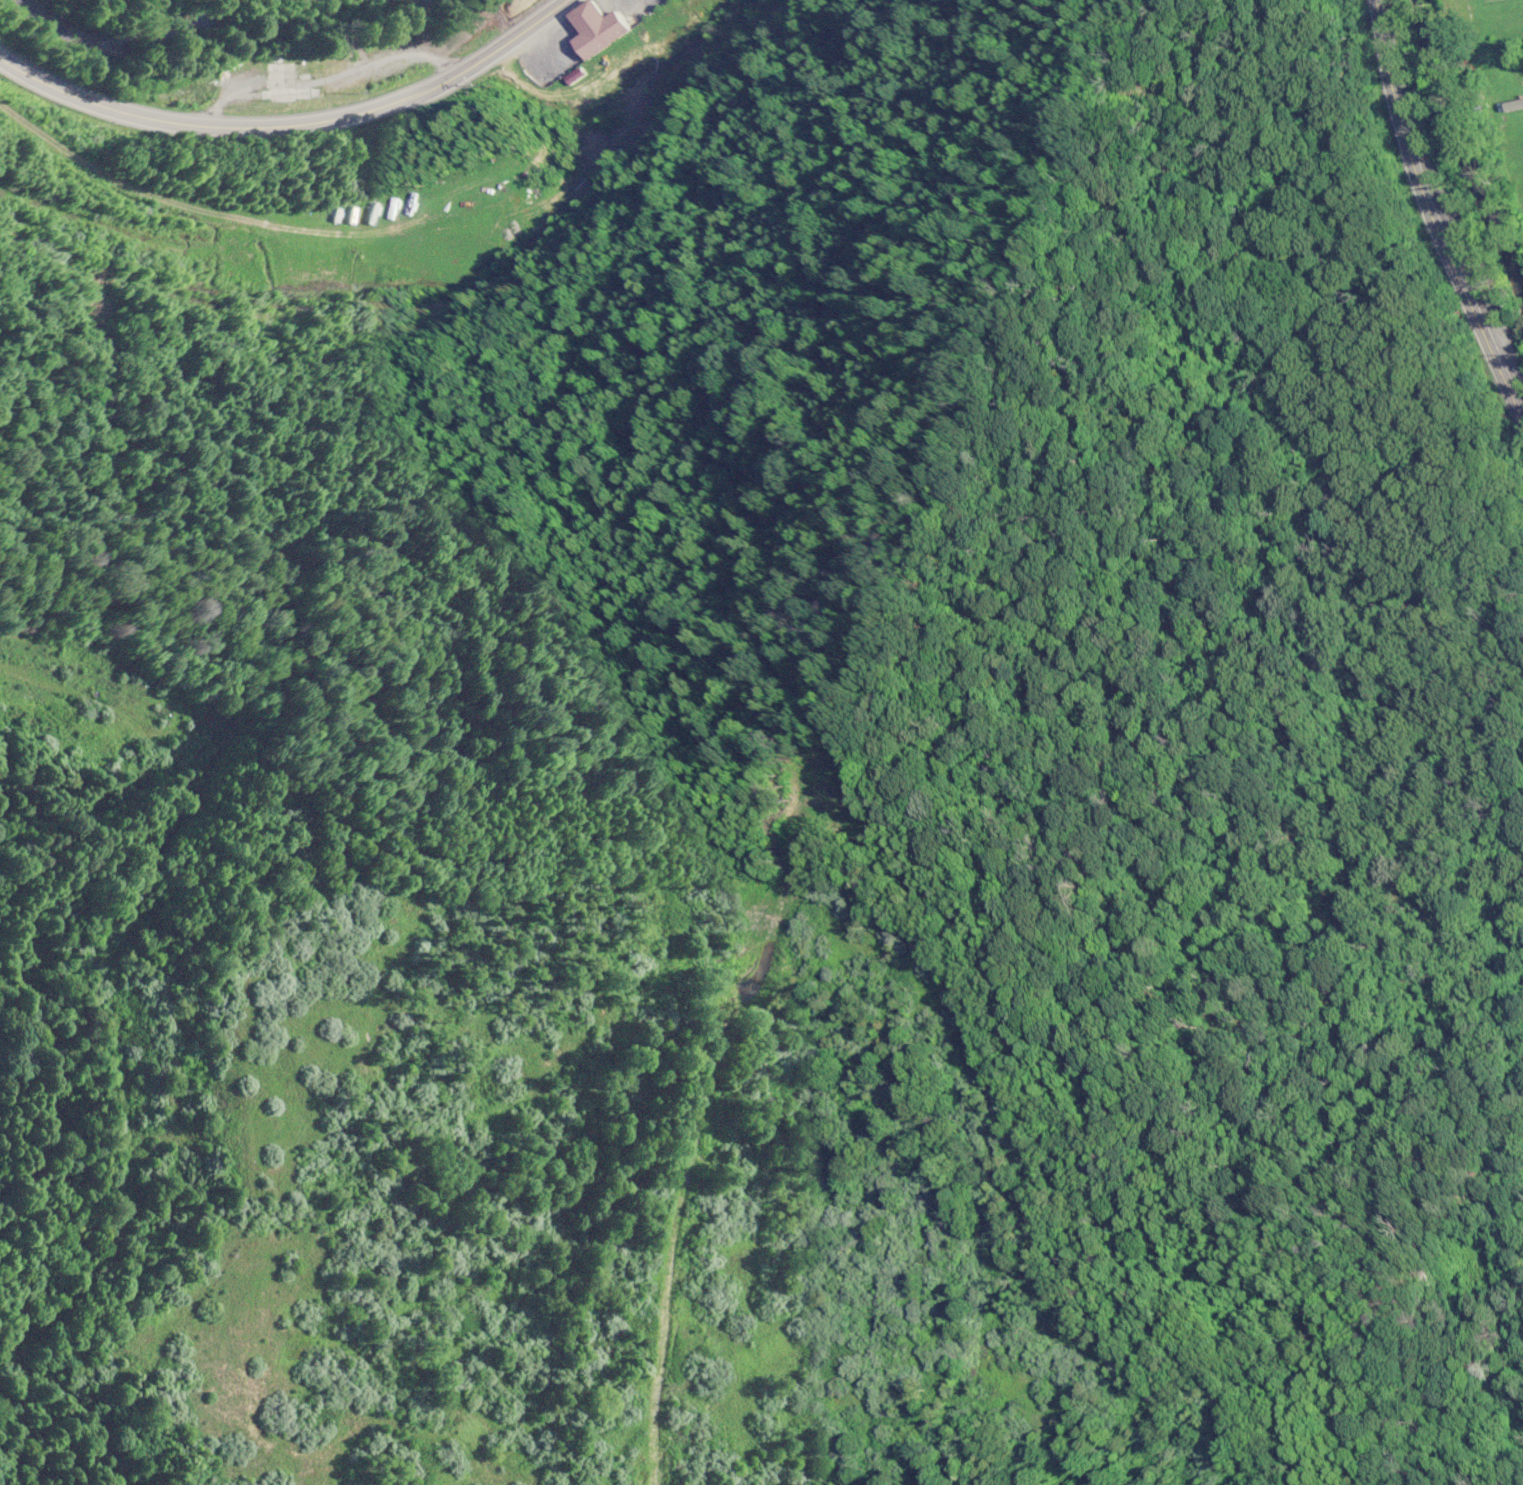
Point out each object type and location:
building: (599, 26)
river: (124, 43)
building: (316, 63)
building: (183, 82)
building: (292, 94)
building: (1518, 101)
road: (291, 124)
river: (1470, 139)
road: (1432, 208)

